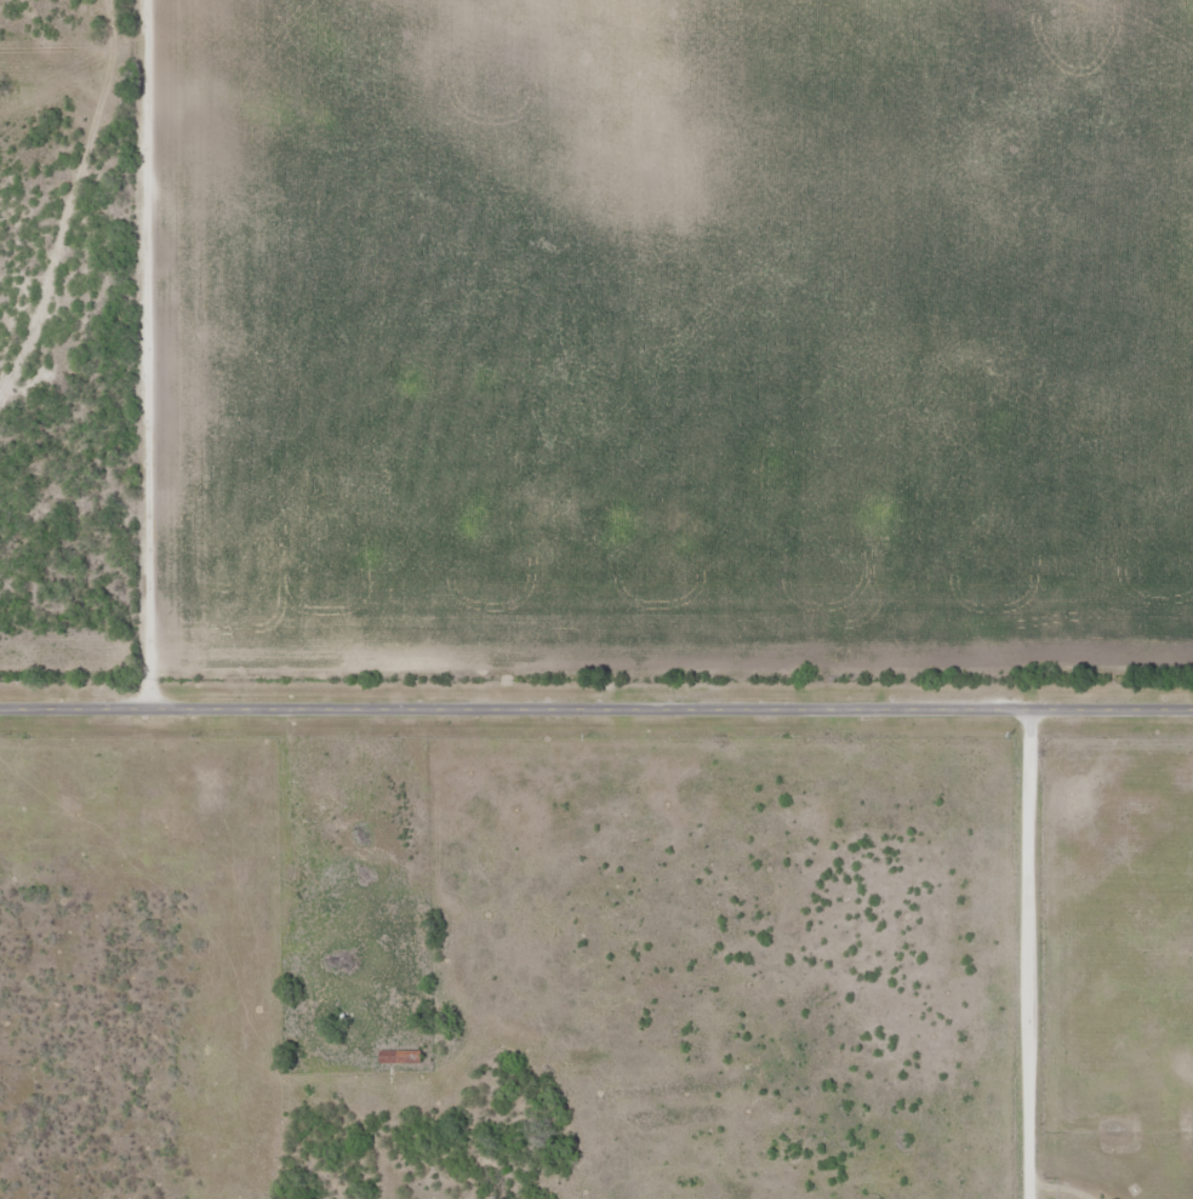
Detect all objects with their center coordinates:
road: (596, 708)
road: (1027, 954)

